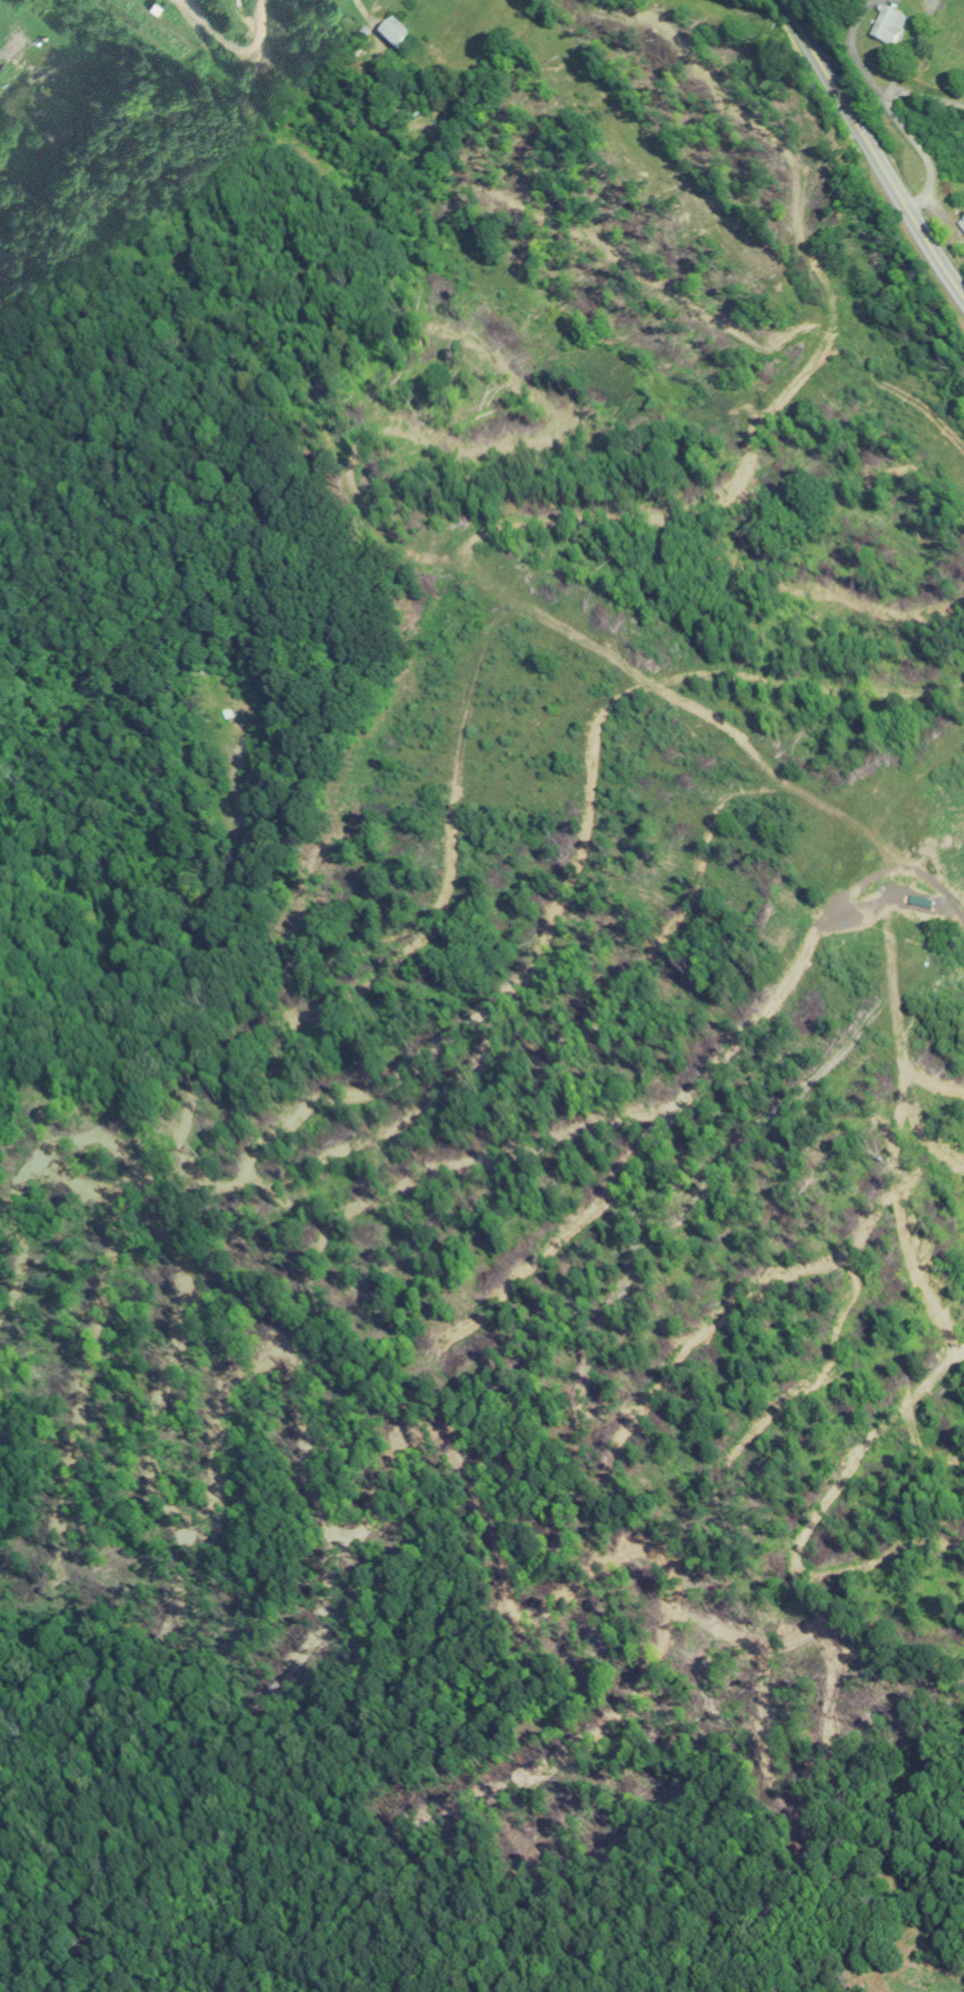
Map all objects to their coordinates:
road: (907, 45)
road: (235, 46)
road: (850, 53)
road: (918, 93)
road: (870, 150)
road: (923, 155)

